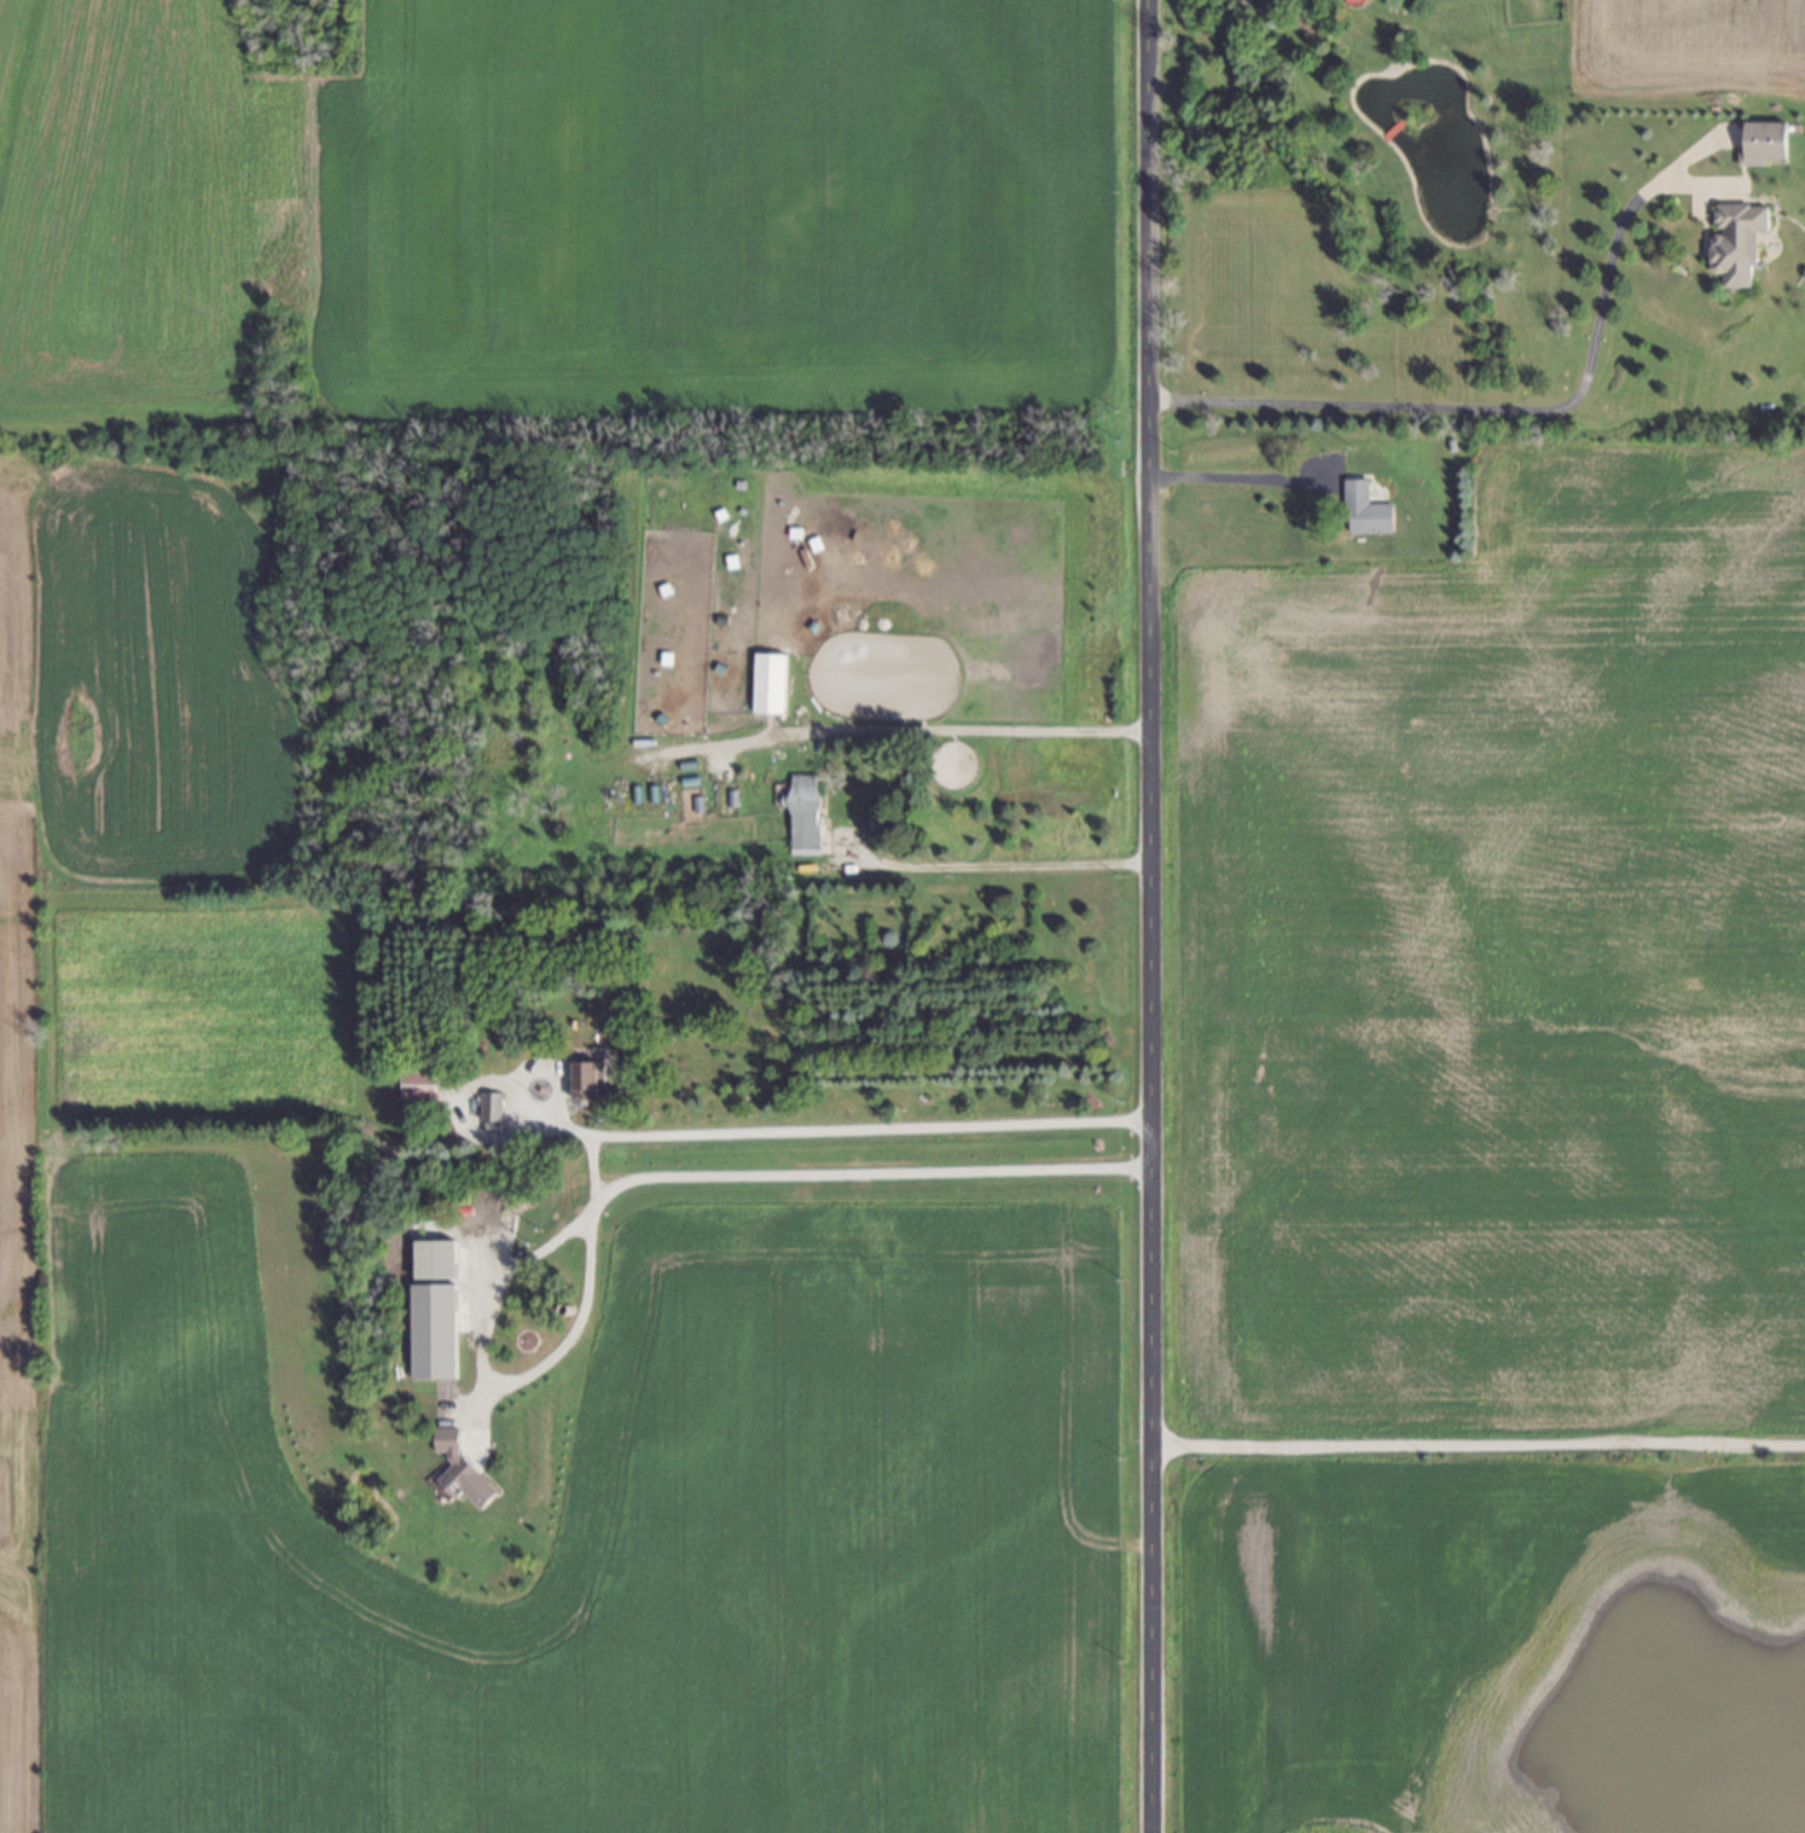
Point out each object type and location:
building: (1764, 141)
building: (1737, 240)
road: (1513, 408)
road: (1240, 474)
building: (1366, 509)
building: (770, 683)
road: (968, 729)
building: (806, 813)
road: (998, 864)
road: (1148, 916)
building: (588, 1079)
building: (420, 1084)
building: (492, 1106)
road: (765, 1127)
road: (596, 1164)
road: (639, 1174)
building: (437, 1258)
building: (435, 1330)
road: (1476, 1444)
building: (460, 1471)

